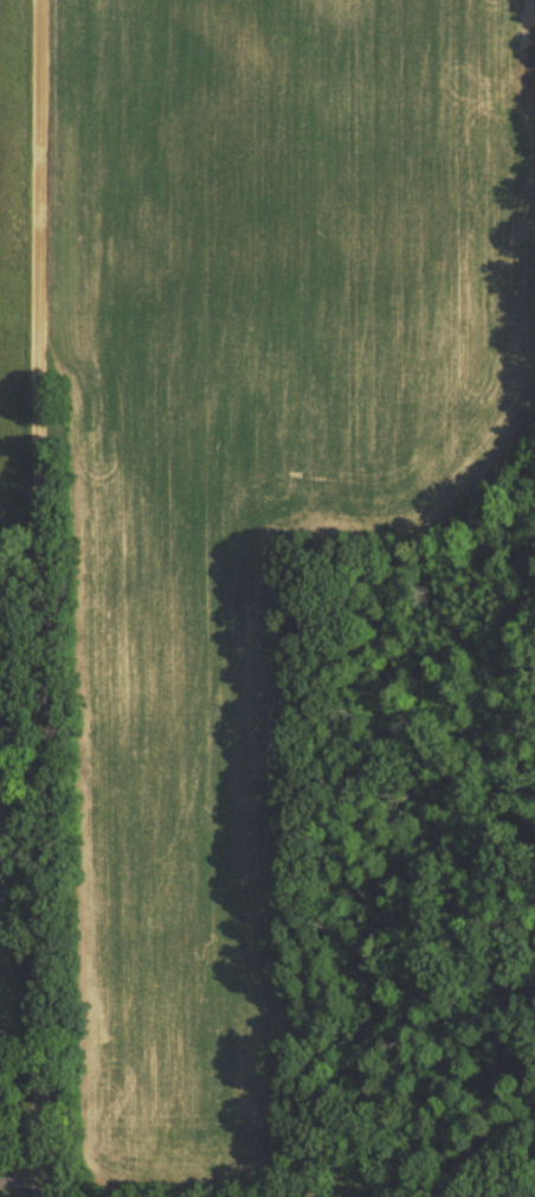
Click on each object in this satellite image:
road: (47, 597)

